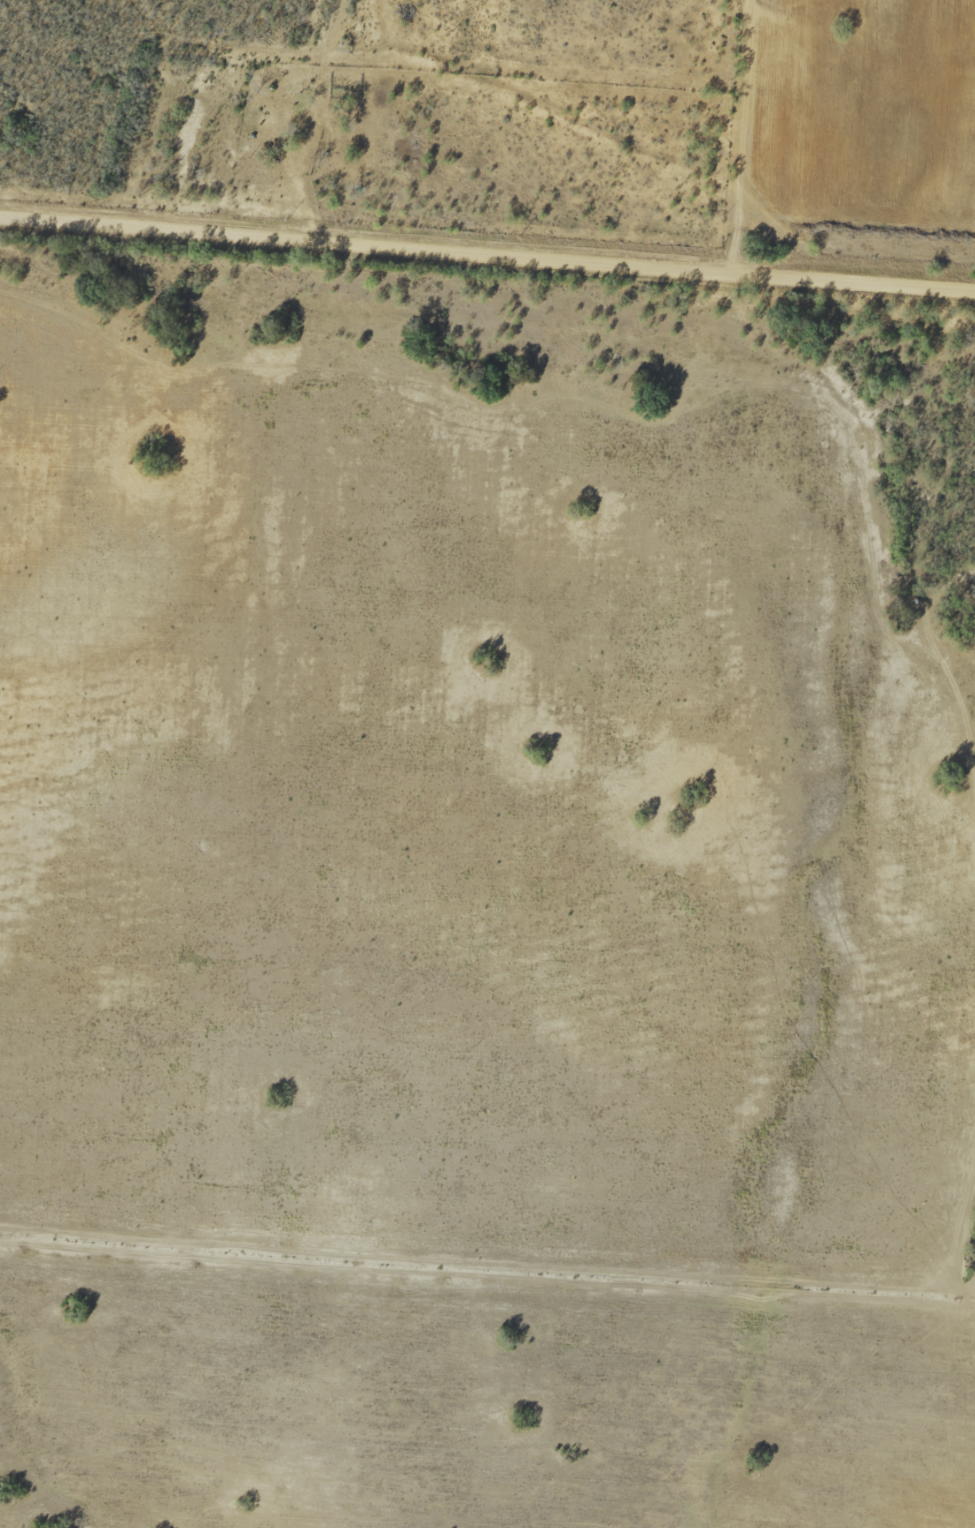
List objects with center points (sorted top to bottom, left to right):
road: (740, 132)
road: (487, 249)

